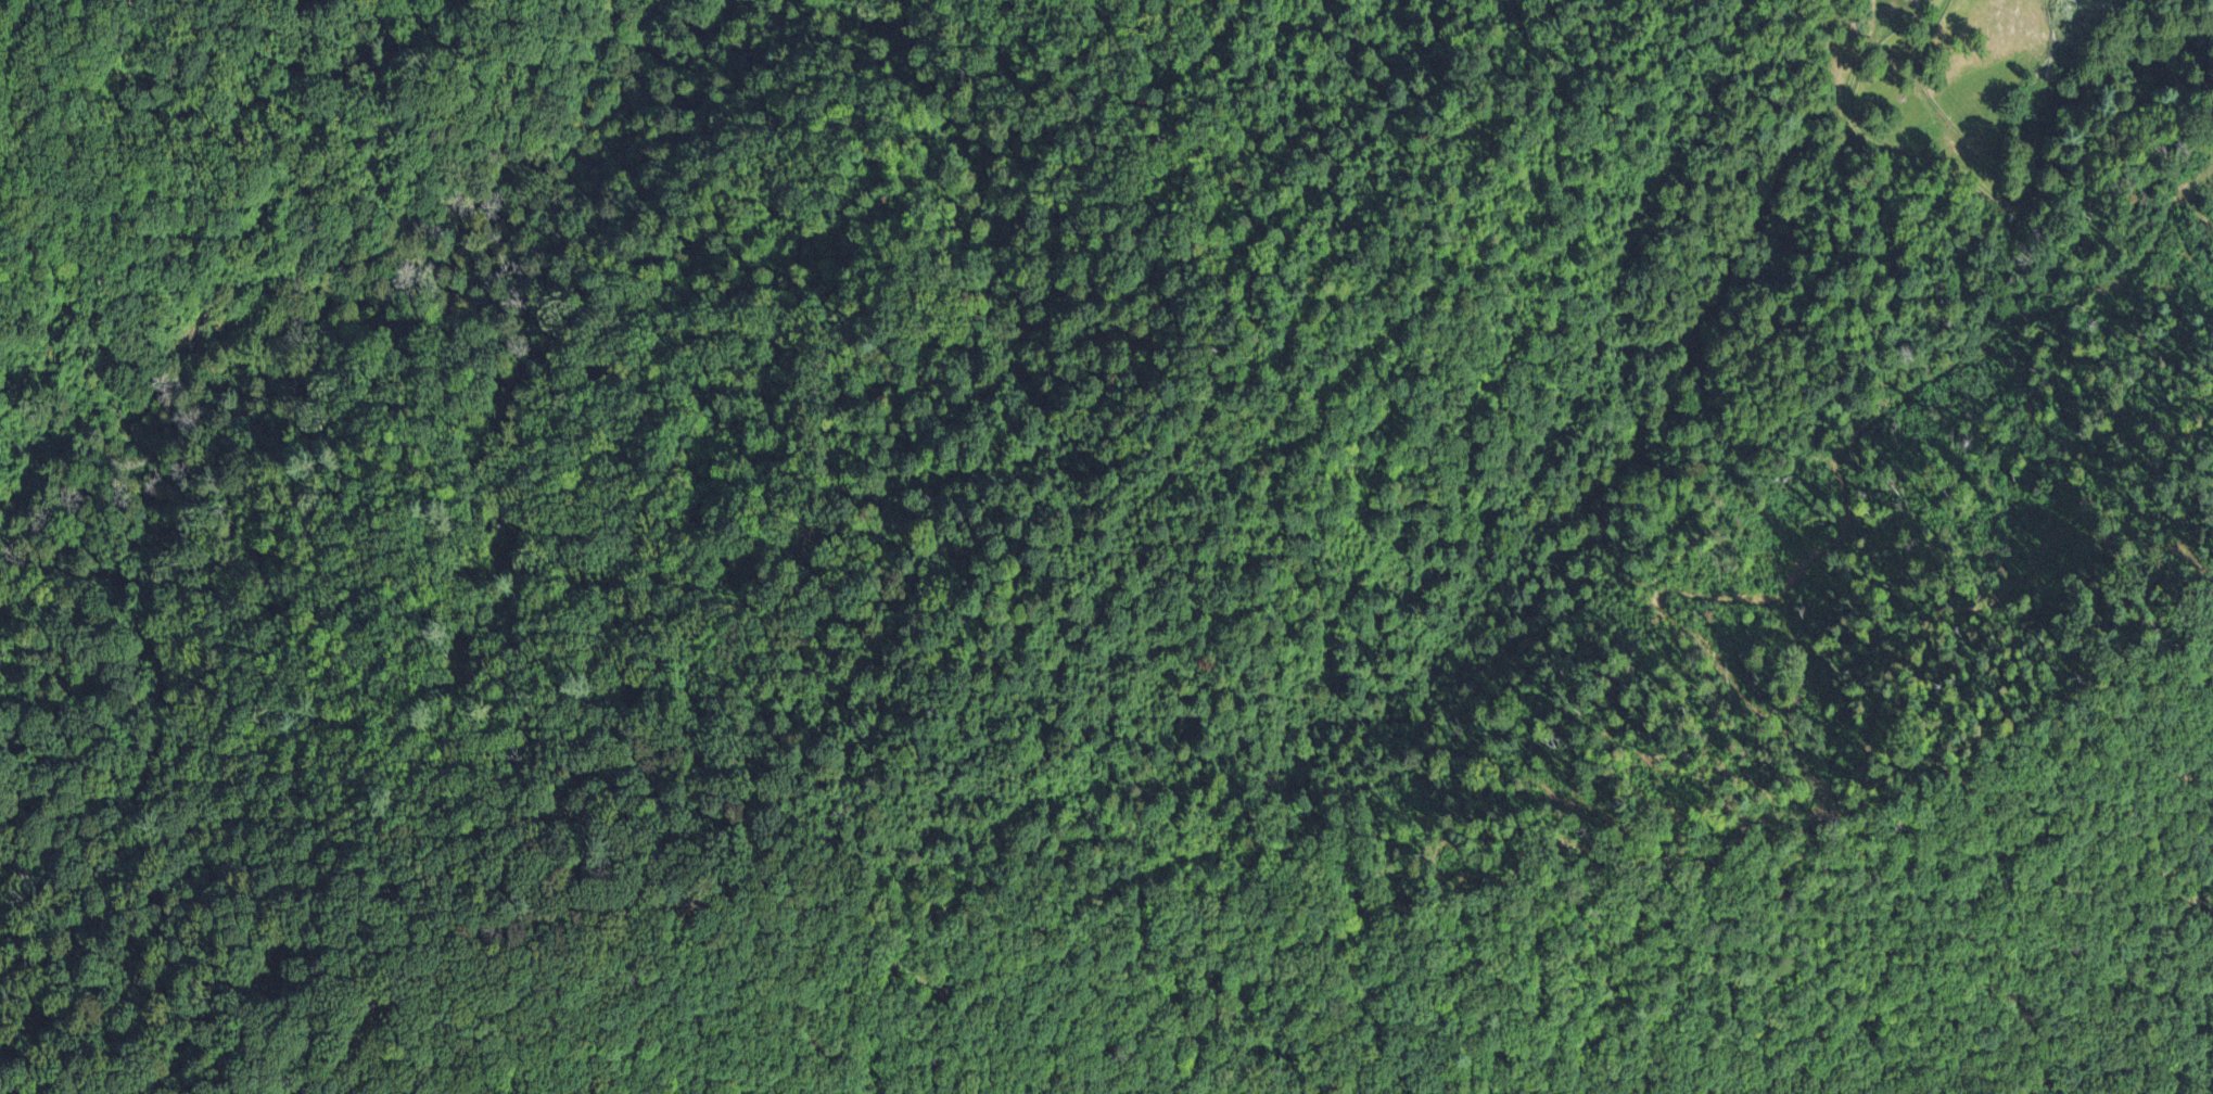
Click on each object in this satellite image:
building: (1908, 0)

